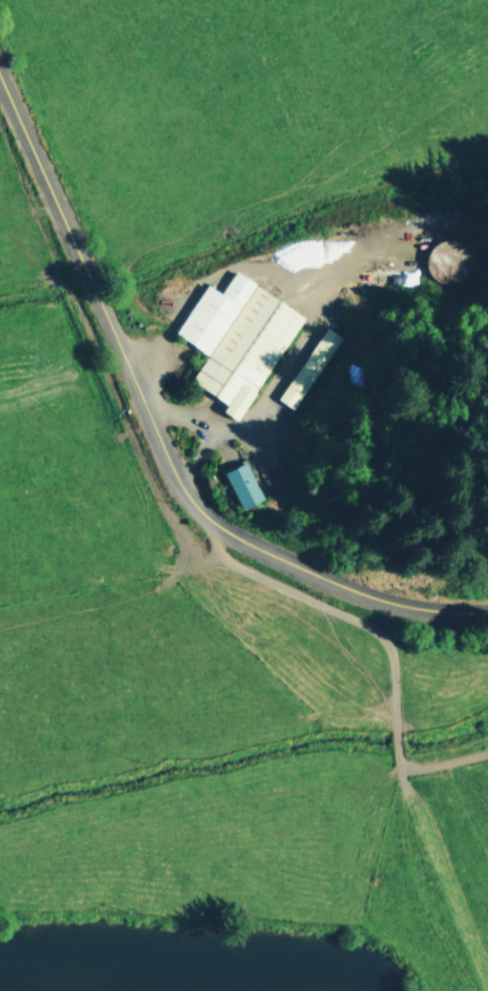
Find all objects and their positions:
building: (234, 338)
building: (307, 366)
road: (158, 437)
building: (241, 484)
crop: (222, 498)

